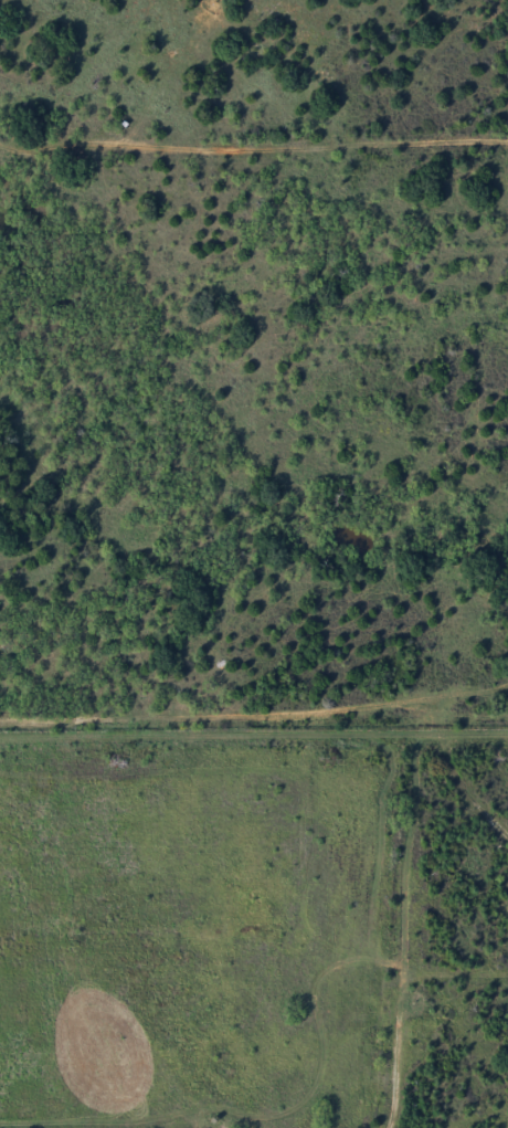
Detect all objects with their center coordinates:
road: (253, 147)
road: (254, 730)

